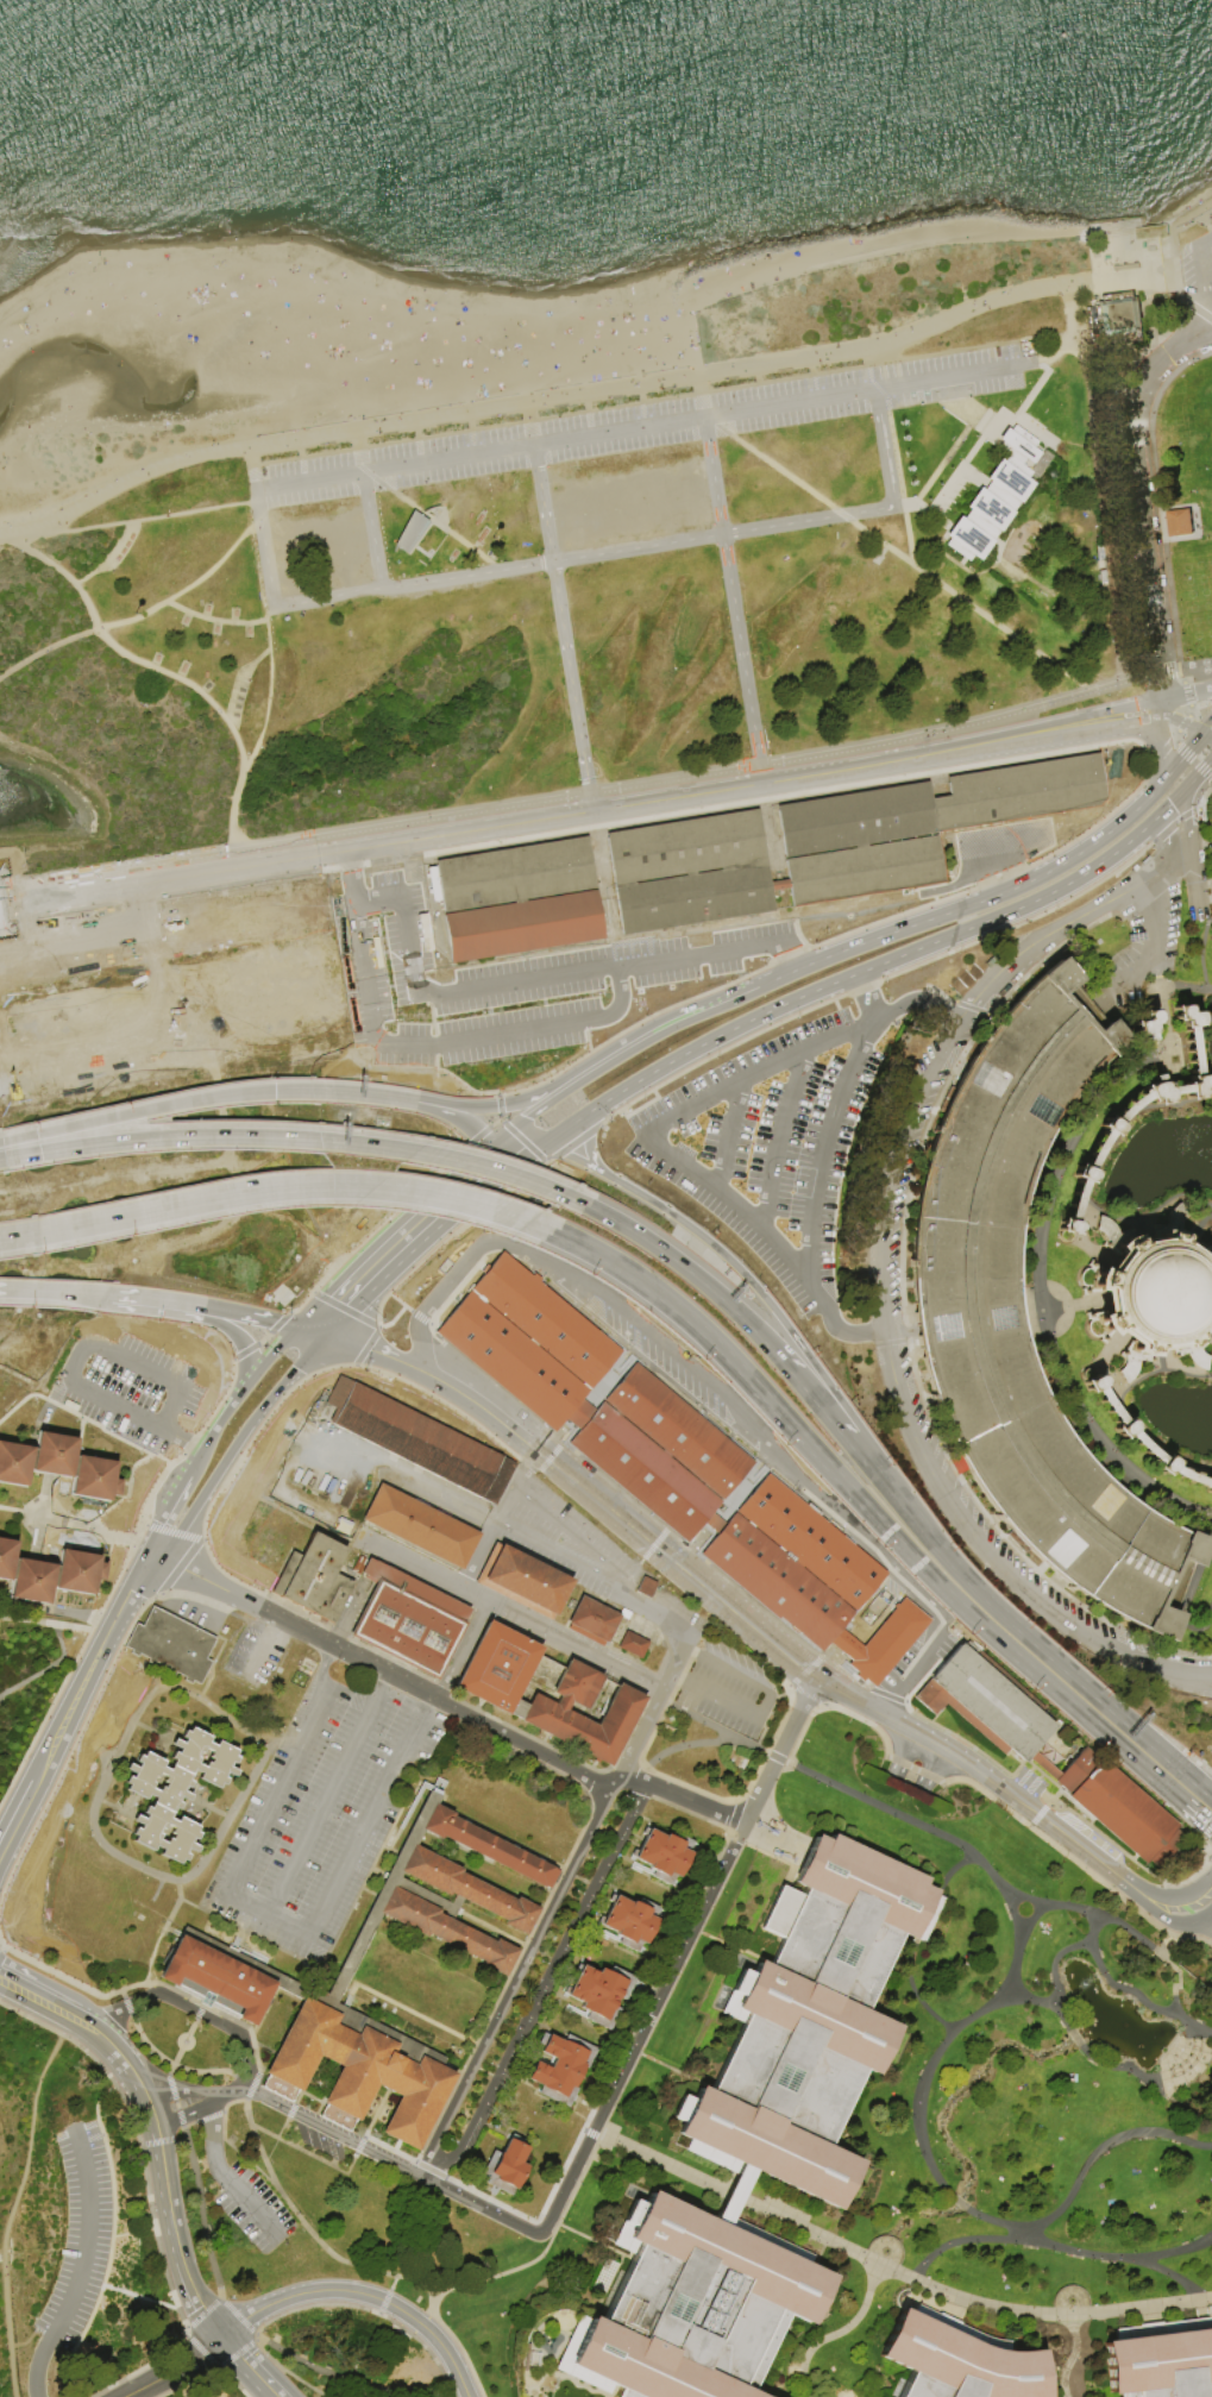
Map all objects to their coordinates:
road: (1172, 233)
road: (1205, 243)
parking lot: (1197, 269)
road: (1205, 278)
road: (960, 314)
building: (1119, 319)
park: (121, 331)
road: (1072, 332)
road: (1073, 351)
road: (1126, 352)
road: (812, 379)
road: (701, 399)
road: (640, 402)
road: (586, 410)
road: (529, 419)
parking lot: (640, 423)
road: (648, 428)
road: (470, 429)
road: (340, 435)
wind turbine: (894, 435)
road: (416, 438)
road: (358, 447)
road: (950, 448)
road: (885, 450)
road: (893, 453)
road: (300, 457)
road: (255, 464)
road: (1138, 481)
wind turbine: (903, 483)
road: (627, 488)
park: (1188, 495)
building: (994, 498)
road: (1100, 508)
road: (128, 521)
building: (1178, 521)
road: (432, 523)
building: (409, 532)
road: (371, 533)
road: (264, 551)
road: (897, 553)
road: (106, 557)
road: (584, 557)
road: (188, 585)
road: (731, 602)
road: (213, 620)
road: (561, 629)
road: (45, 647)
road: (128, 655)
road: (1187, 666)
road: (237, 679)
road: (1124, 683)
road: (1161, 690)
road: (1183, 696)
road: (1183, 722)
road: (1183, 724)
road: (263, 729)
road: (1161, 748)
road: (1182, 758)
road: (1191, 759)
road: (1198, 774)
traffic signals: (1157, 786)
building: (1017, 791)
traffic signals: (1183, 791)
road: (601, 793)
road: (1141, 801)
road: (1169, 802)
road: (648, 803)
building: (854, 817)
road: (1185, 824)
road: (1168, 834)
road: (1001, 840)
building: (683, 847)
road: (316, 848)
road: (992, 864)
building: (860, 868)
building: (513, 874)
road: (79, 877)
road: (1191, 885)
road: (23, 886)
road: (94, 893)
road: (1145, 895)
building: (691, 897)
road: (24, 904)
road: (940, 912)
road: (284, 923)
building: (521, 925)
road: (1057, 928)
road: (715, 947)
parking lot: (1142, 950)
road: (1201, 952)
parking lot: (667, 954)
road: (1147, 955)
road: (881, 961)
road: (1156, 973)
road: (1181, 986)
road: (868, 998)
road: (917, 1002)
road: (596, 1014)
road: (246, 1024)
building: (1145, 1025)
road: (662, 1030)
road: (456, 1068)
road: (290, 1090)
traffic signals: (272, 1091)
road: (348, 1092)
road: (541, 1094)
road: (1194, 1100)
road: (444, 1102)
traffic signals: (520, 1102)
road: (497, 1103)
road: (435, 1111)
road: (534, 1111)
road: (146, 1112)
traffic signals: (448, 1116)
road: (594, 1117)
road: (571, 1124)
building: (1111, 1127)
road: (488, 1128)
road: (1069, 1130)
road: (727, 1134)
road: (516, 1135)
road: (652, 1135)
road: (283, 1137)
road: (777, 1138)
road: (11, 1141)
road: (481, 1142)
road: (573, 1143)
parking lot: (771, 1143)
road: (513, 1144)
traffic signals: (588, 1144)
traffic signals: (485, 1147)
traffic signals: (540, 1147)
road: (550, 1149)
road: (590, 1153)
road: (1, 1159)
road: (579, 1161)
road: (509, 1167)
road: (488, 1168)
road: (893, 1169)
road: (817, 1172)
road: (1101, 1173)
road: (440, 1181)
road: (289, 1184)
road: (278, 1190)
traffic signals: (481, 1190)
road: (570, 1200)
road: (583, 1205)
park: (1136, 1218)
building: (1193, 1218)
road: (533, 1226)
road: (1198, 1228)
road: (1141, 1230)
road: (548, 1232)
building: (1210, 1232)
building: (1091, 1235)
road: (17, 1236)
road: (1080, 1238)
road: (662, 1253)
road: (398, 1261)
road: (343, 1272)
road: (1210, 1284)
road: (50, 1292)
road: (1151, 1293)
road: (1153, 1293)
building: (1151, 1294)
road: (1151, 1294)
road: (1153, 1295)
road: (396, 1299)
road: (151, 1300)
parking lot: (881, 1300)
road: (300, 1303)
road: (334, 1303)
building: (967, 1304)
road: (1030, 1311)
road: (239, 1316)
road: (393, 1318)
building: (542, 1319)
road: (227, 1325)
road: (785, 1325)
building: (1211, 1325)
road: (283, 1326)
traffic signals: (290, 1329)
road: (899, 1329)
road: (375, 1330)
traffic signals: (236, 1332)
road: (304, 1332)
road: (859, 1332)
road: (1205, 1332)
traffic signals: (320, 1337)
road: (262, 1339)
road: (341, 1344)
building: (1211, 1353)
road: (268, 1354)
road: (677, 1354)
building: (509, 1360)
road: (76, 1361)
road: (1162, 1361)
road: (395, 1364)
road: (247, 1366)
road: (1101, 1369)
building: (1112, 1369)
park: (553, 1382)
parking lot: (132, 1392)
road: (1122, 1410)
road: (222, 1414)
road: (829, 1416)
road: (1075, 1417)
road: (88, 1423)
road: (255, 1431)
building: (676, 1431)
building: (1126, 1433)
building: (419, 1442)
road: (233, 1444)
road: (183, 1450)
building: (55, 1455)
building: (14, 1463)
road: (146, 1463)
building: (639, 1468)
road: (182, 1475)
building: (96, 1480)
road: (412, 1481)
road: (131, 1482)
road: (125, 1498)
road: (858, 1508)
road: (44, 1516)
road: (498, 1521)
road: (153, 1525)
building: (422, 1527)
road: (102, 1530)
road: (120, 1537)
road: (130, 1539)
road: (579, 1541)
road: (199, 1542)
building: (808, 1542)
building: (6, 1557)
road: (992, 1560)
parking lot: (598, 1563)
road: (109, 1569)
building: (80, 1571)
road: (590, 1574)
building: (521, 1579)
building: (316, 1580)
building: (773, 1580)
building: (34, 1582)
road: (111, 1586)
building: (643, 1586)
road: (150, 1598)
road: (1187, 1604)
parking lot: (191, 1606)
road: (508, 1613)
building: (623, 1613)
park: (1198, 1614)
building: (591, 1619)
building: (409, 1621)
road: (52, 1626)
road: (1201, 1627)
road: (59, 1642)
building: (879, 1642)
building: (630, 1643)
building: (169, 1644)
road: (101, 1645)
road: (770, 1645)
road: (1041, 1650)
road: (693, 1651)
road: (461, 1652)
parking lot: (263, 1657)
building: (495, 1665)
road: (46, 1668)
road: (134, 1670)
road: (910, 1671)
road: (679, 1680)
road: (208, 1684)
parking lot: (729, 1694)
building: (984, 1701)
road: (442, 1705)
road: (764, 1707)
road: (43, 1714)
building: (547, 1714)
road: (648, 1715)
road: (237, 1721)
road: (132, 1724)
road: (715, 1732)
road: (280, 1743)
road: (677, 1747)
road: (779, 1755)
road: (904, 1755)
road: (43, 1759)
road: (931, 1768)
road: (287, 1770)
road: (54, 1778)
road: (1192, 1780)
building: (174, 1790)
road: (328, 1794)
parking lot: (899, 1802)
road: (17, 1805)
building: (1114, 1806)
road: (1187, 1808)
parking lot: (324, 1809)
road: (370, 1815)
road: (18, 1822)
road: (1211, 1825)
road: (913, 1827)
building: (658, 1856)
road: (953, 1874)
road: (174, 1881)
building: (447, 1890)
road: (1175, 1897)
road: (1054, 1908)
road: (269, 1910)
road: (1174, 1910)
road: (206, 1912)
road: (1154, 1912)
road: (1200, 1921)
building: (632, 1922)
road: (167, 1925)
road: (1199, 1929)
road: (1017, 1941)
road: (1, 1947)
road: (1089, 1951)
road: (1053, 1964)
road: (19, 1975)
road: (61, 1976)
building: (219, 1977)
road: (515, 1982)
road: (139, 1983)
fountain: (1084, 1984)
road: (15, 1989)
road: (547, 1991)
building: (602, 1994)
road: (915, 1995)
road: (123, 1997)
road: (1045, 2003)
road: (194, 2008)
road: (70, 2010)
road: (30, 2020)
building: (809, 2026)
road: (643, 2033)
road: (1074, 2038)
road: (125, 2063)
road: (172, 2065)
building: (358, 2067)
building: (561, 2069)
road: (924, 2082)
road: (1151, 2085)
road: (174, 2090)
road: (225, 2095)
road: (550, 2104)
road: (181, 2117)
road: (337, 2136)
road: (213, 2139)
building: (507, 2169)
road: (142, 2175)
road: (196, 2179)
road: (1066, 2203)
road: (960, 2204)
road: (483, 2208)
road: (250, 2209)
road: (8, 2211)
parking lot: (260, 2215)
road: (170, 2217)
road: (86, 2236)
parking lot: (79, 2238)
road: (1087, 2254)
road: (360, 2267)
road: (892, 2271)
road: (1178, 2274)
road: (390, 2285)
road: (318, 2291)
road: (382, 2302)
road: (431, 2304)
building: (695, 2307)
road: (365, 2309)
road: (201, 2313)
road: (236, 2315)
road: (255, 2334)
road: (839, 2334)
road: (199, 2352)
road: (233, 2354)
road: (265, 2355)
road: (447, 2355)
road: (1072, 2357)
road: (464, 2358)
building: (960, 2360)
building: (1162, 2360)
road: (246, 2365)
road: (171, 2366)
road: (38, 2367)
road: (318, 2370)

